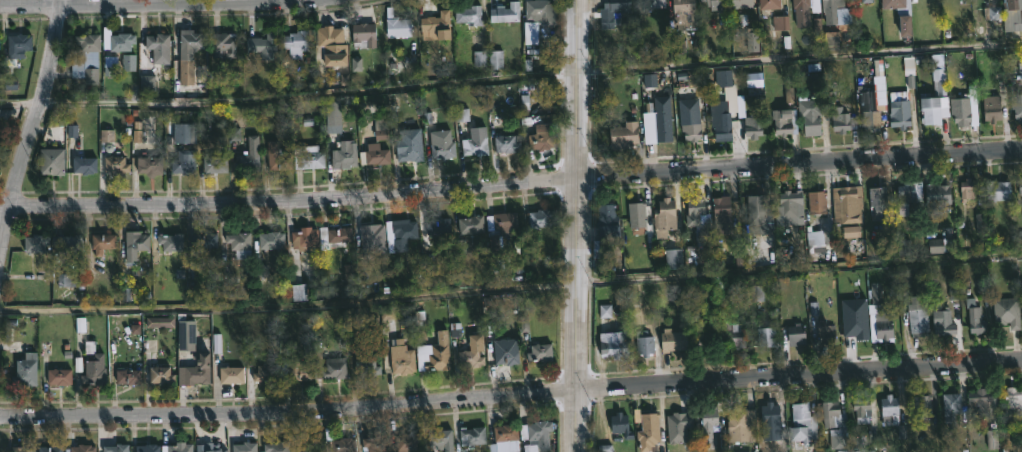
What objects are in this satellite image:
building: (864, 1)
building: (739, 3)
building: (646, 4)
building: (799, 4)
building: (714, 5)
road: (171, 6)
building: (830, 10)
building: (506, 13)
building: (610, 13)
building: (683, 14)
building: (470, 15)
building: (781, 15)
building: (898, 15)
building: (1011, 15)
building: (539, 18)
building: (398, 24)
building: (437, 25)
building: (366, 33)
building: (122, 41)
building: (20, 42)
building: (89, 42)
building: (297, 43)
building: (224, 44)
building: (335, 44)
building: (159, 46)
building: (263, 46)
building: (191, 52)
road: (510, 76)
building: (933, 104)
building: (1016, 106)
building: (898, 109)
building: (964, 109)
building: (990, 109)
building: (808, 117)
building: (842, 120)
building: (872, 121)
building: (785, 122)
road: (32, 125)
building: (655, 125)
building: (719, 125)
building: (689, 127)
building: (751, 127)
building: (622, 136)
building: (542, 139)
building: (476, 142)
building: (507, 143)
building: (443, 144)
building: (411, 152)
building: (376, 154)
building: (347, 155)
building: (278, 157)
building: (310, 157)
building: (53, 162)
building: (185, 162)
building: (248, 162)
building: (85, 164)
building: (116, 164)
building: (215, 164)
building: (150, 165)
building: (1019, 187)
road: (511, 189)
building: (969, 190)
building: (996, 190)
building: (908, 192)
building: (935, 196)
building: (876, 197)
building: (815, 203)
building: (846, 204)
building: (719, 207)
building: (694, 209)
building: (785, 209)
building: (755, 210)
building: (635, 214)
building: (543, 218)
building: (663, 218)
building: (473, 223)
building: (606, 224)
building: (440, 225)
road: (575, 225)
building: (370, 232)
building: (405, 235)
building: (496, 235)
building: (339, 236)
building: (307, 237)
building: (272, 239)
building: (816, 239)
building: (173, 241)
building: (104, 242)
building: (35, 243)
building: (204, 243)
building: (137, 244)
building: (241, 244)
building: (72, 246)
building: (940, 246)
building: (672, 259)
road: (511, 291)
building: (1006, 311)
building: (877, 315)
building: (973, 316)
building: (916, 318)
building: (941, 322)
building: (824, 332)
building: (854, 332)
building: (733, 333)
building: (794, 334)
building: (767, 338)
building: (188, 339)
building: (668, 340)
building: (708, 342)
building: (613, 343)
building: (642, 343)
building: (542, 352)
building: (437, 354)
building: (508, 356)
building: (471, 358)
building: (406, 363)
building: (93, 365)
building: (368, 367)
building: (333, 368)
building: (26, 370)
building: (298, 371)
building: (267, 373)
building: (232, 374)
building: (162, 375)
building: (60, 376)
building: (196, 376)
building: (129, 377)
road: (511, 395)
building: (1010, 400)
building: (977, 402)
building: (921, 406)
building: (950, 406)
building: (860, 409)
building: (889, 411)
building: (706, 423)
building: (740, 423)
building: (801, 423)
building: (833, 423)
building: (769, 424)
building: (622, 425)
building: (677, 426)
building: (648, 431)
building: (506, 432)
building: (474, 435)
building: (539, 436)
building: (443, 439)
building: (407, 442)
building: (376, 443)
building: (341, 445)
building: (277, 446)
building: (310, 446)
building: (246, 447)
building: (19, 448)
building: (52, 448)
building: (82, 448)
building: (117, 448)
building: (149, 448)
building: (178, 448)
building: (206, 448)

